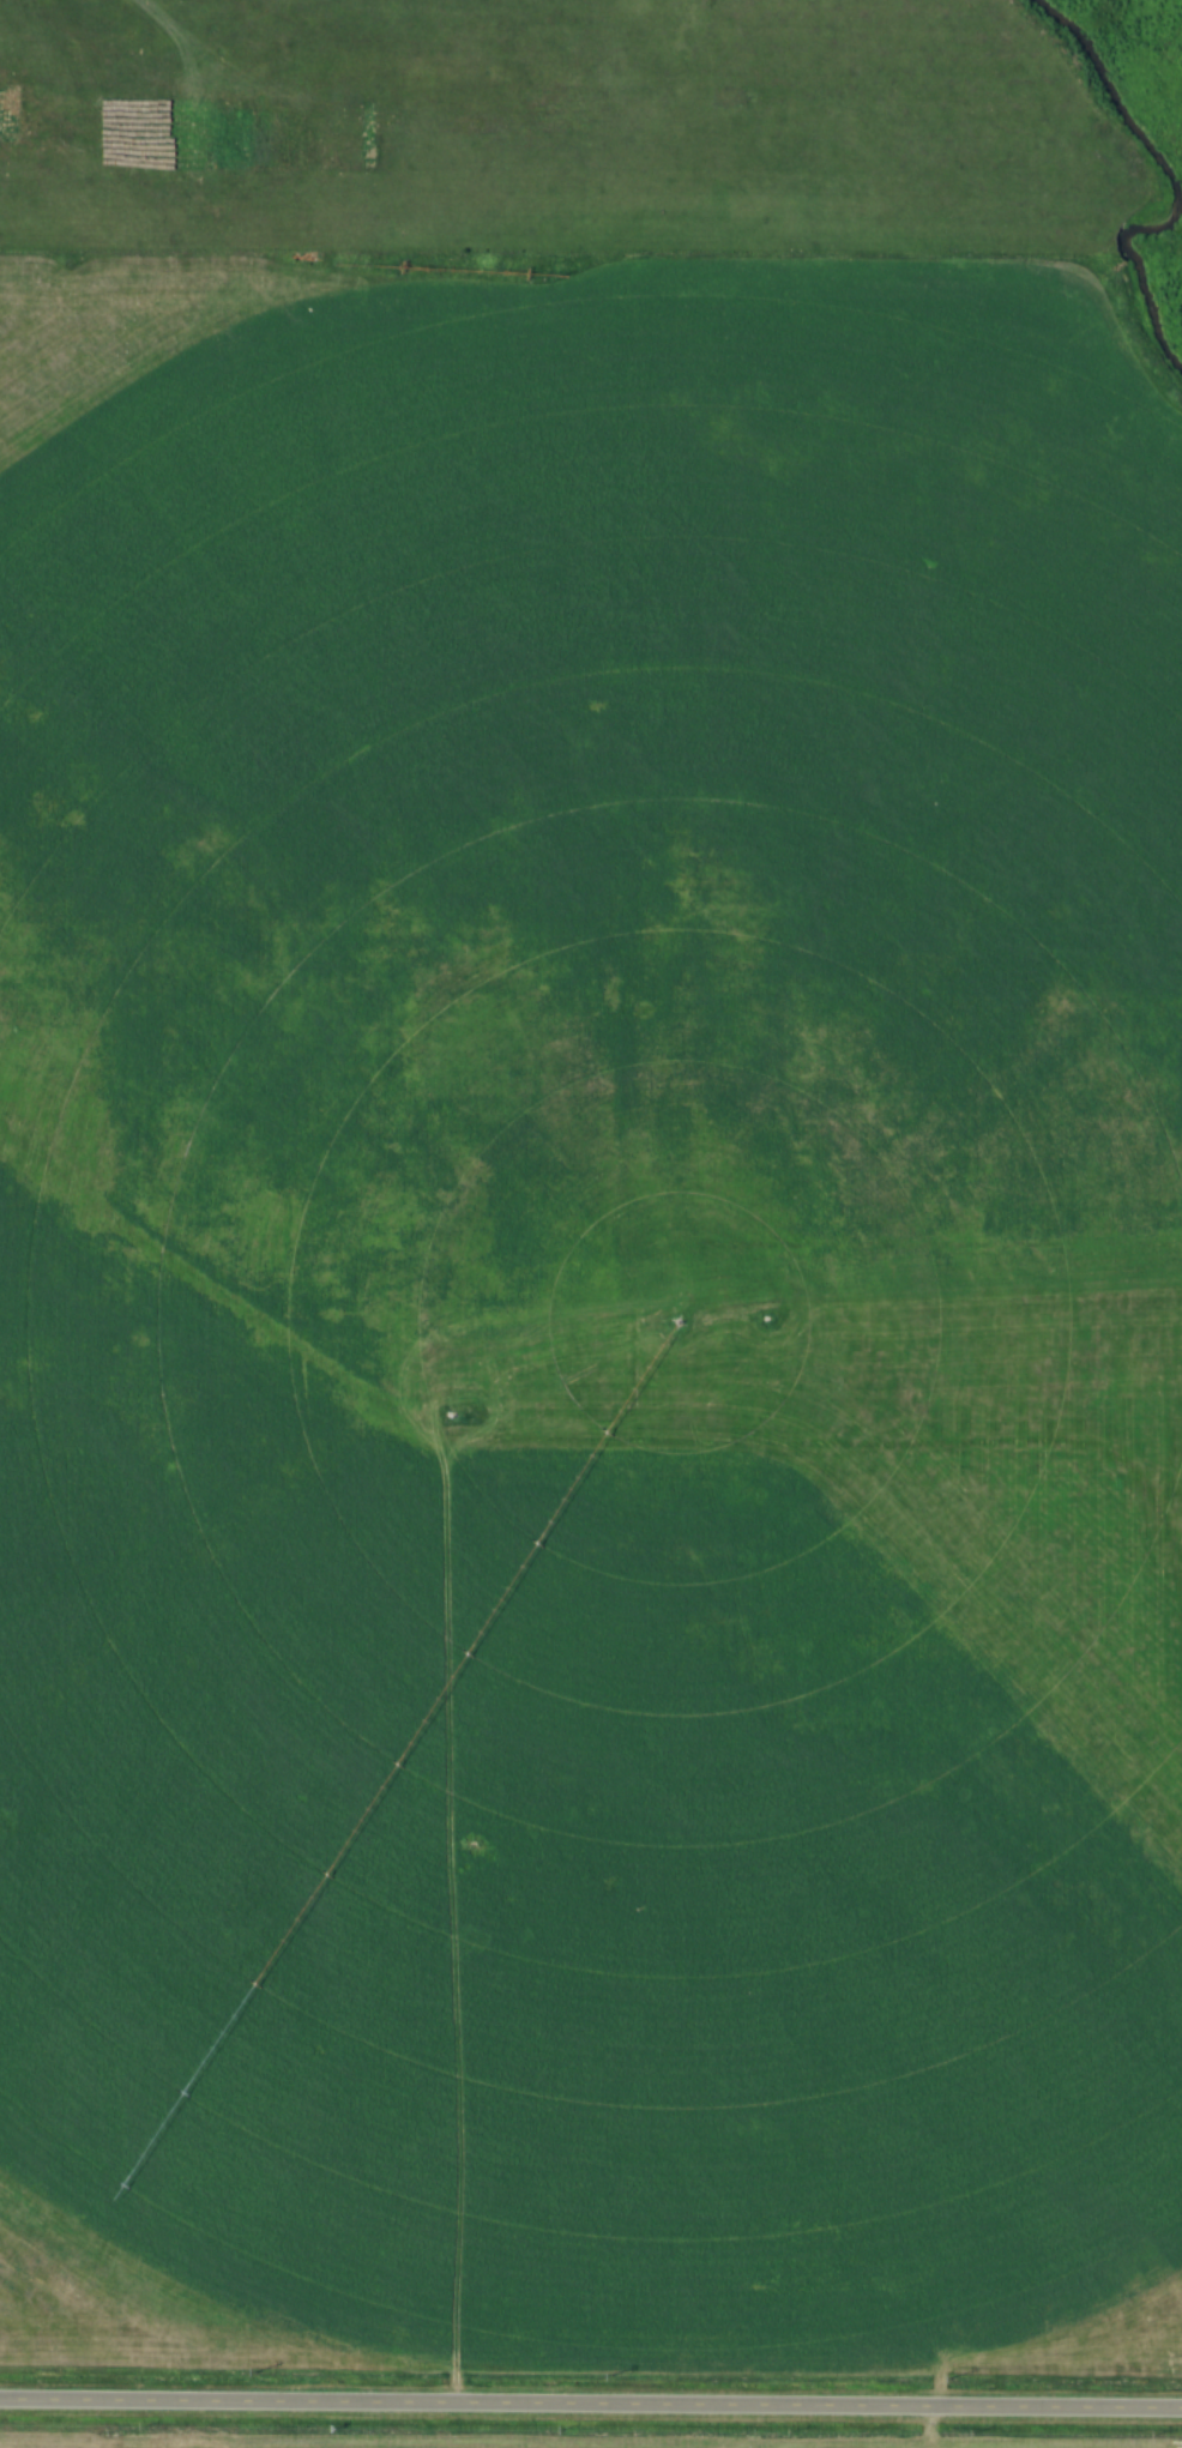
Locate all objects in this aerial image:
road: (590, 2402)
crop: (664, 2438)

